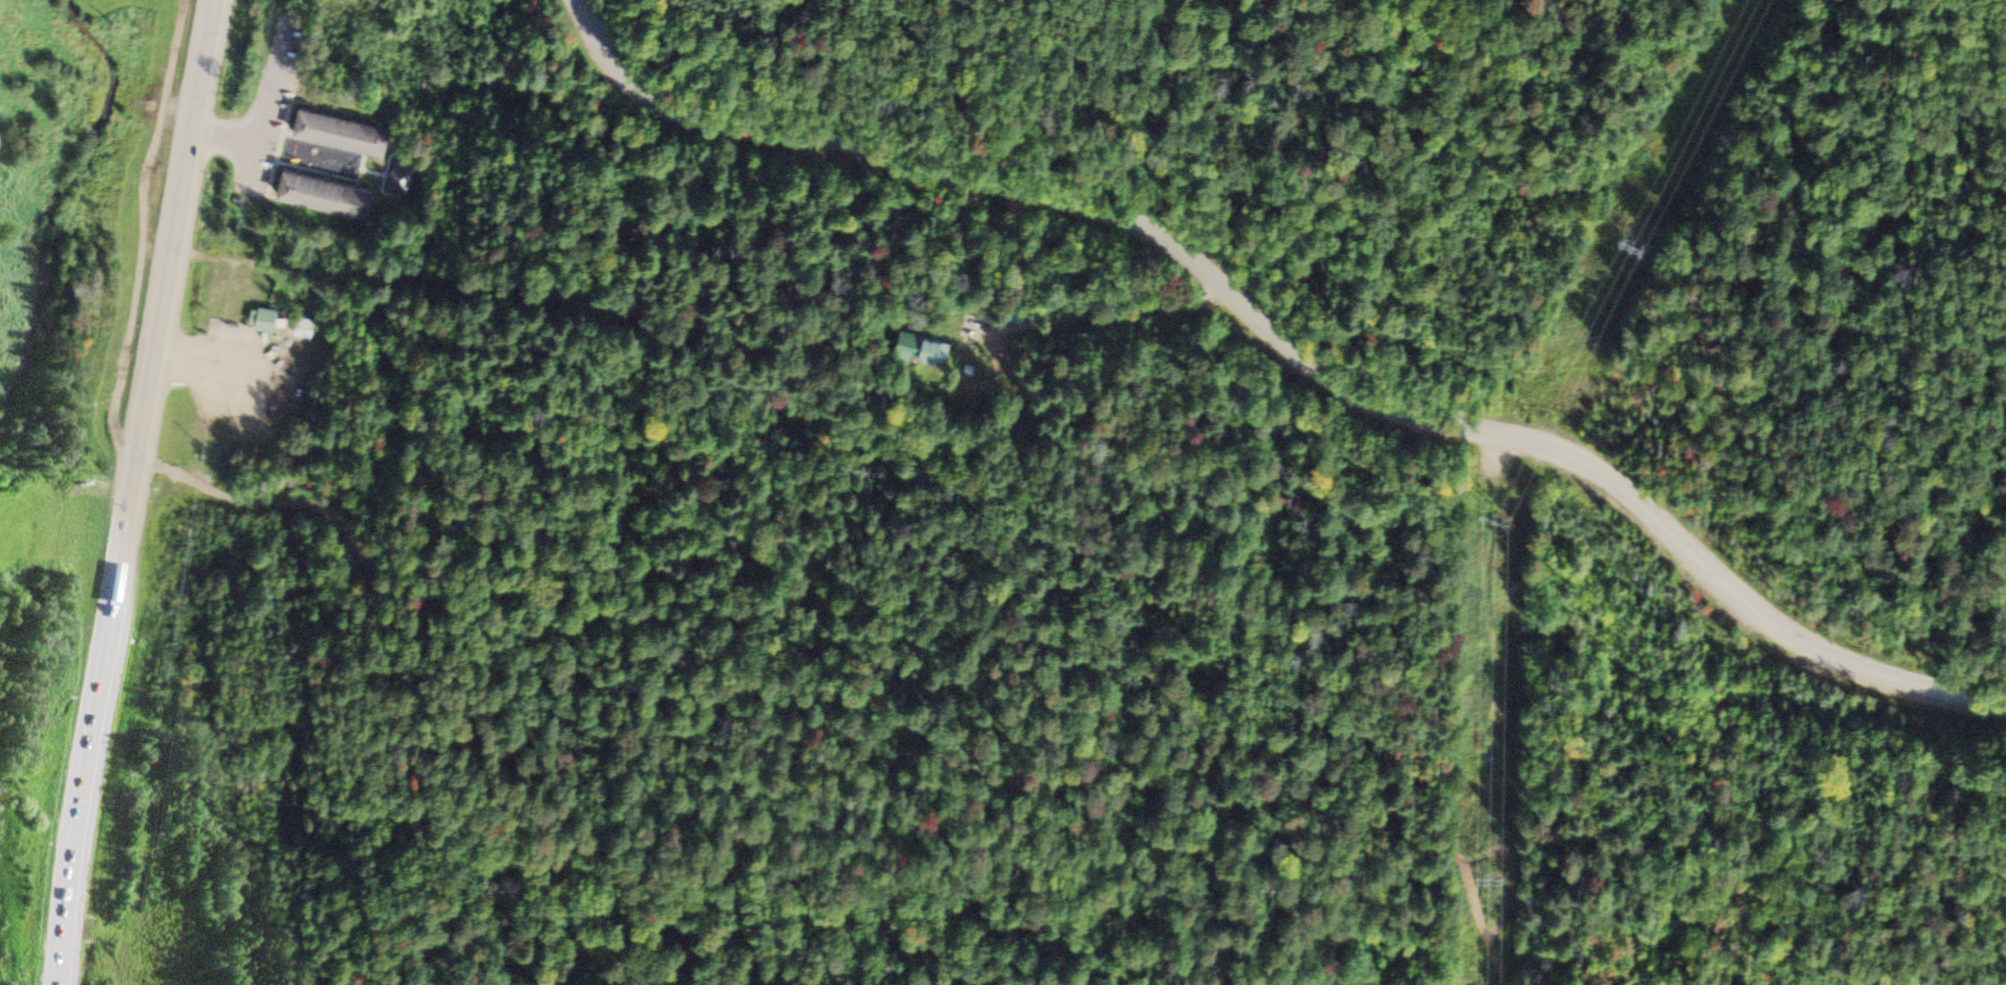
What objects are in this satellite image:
building: (344, 132)
building: (401, 182)
river: (55, 196)
building: (327, 196)
power tower: (1636, 234)
building: (266, 322)
road: (131, 324)
building: (306, 330)
road: (1285, 346)
building: (938, 352)
road: (131, 491)
power tower: (1497, 501)
road: (942, 737)
power tower: (1492, 867)

